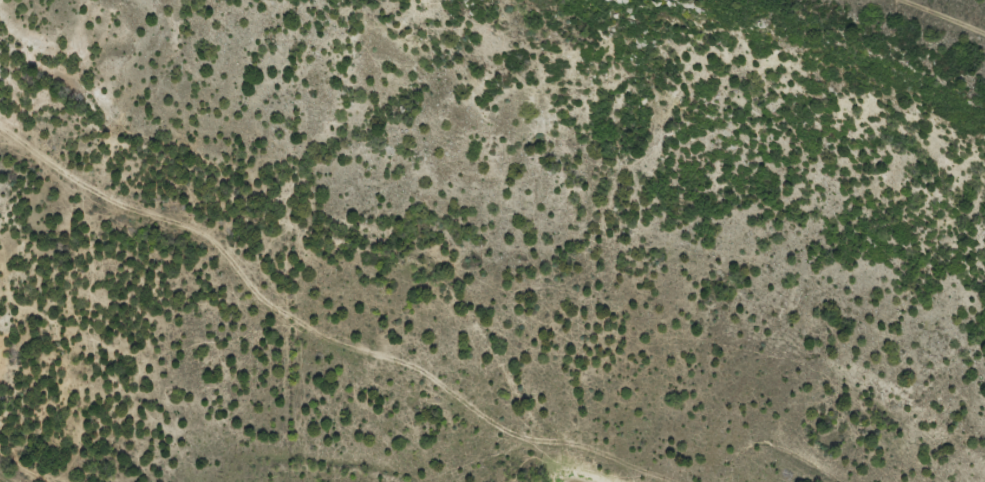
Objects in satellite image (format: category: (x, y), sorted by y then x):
road: (935, 40)

